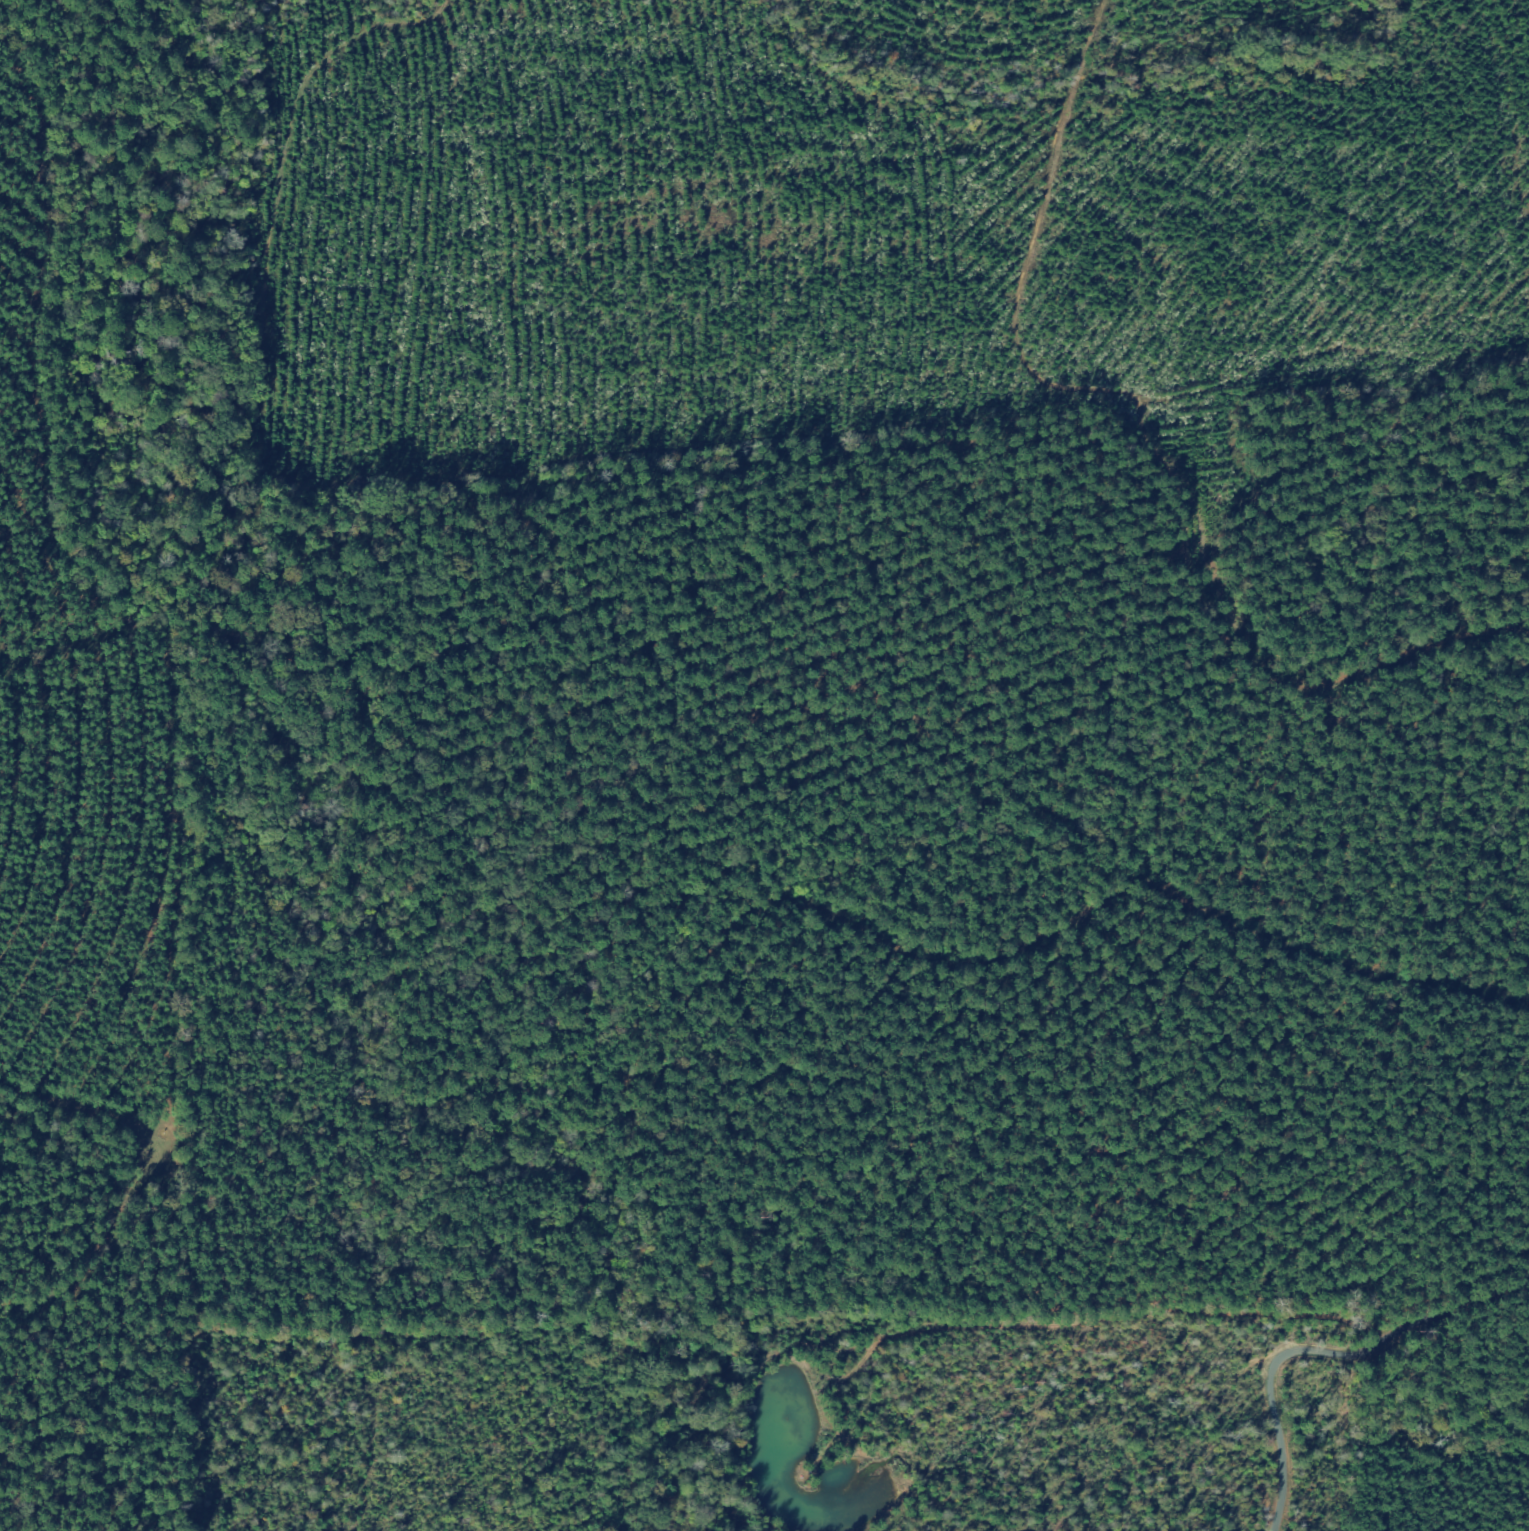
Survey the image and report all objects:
road: (1398, 983)

